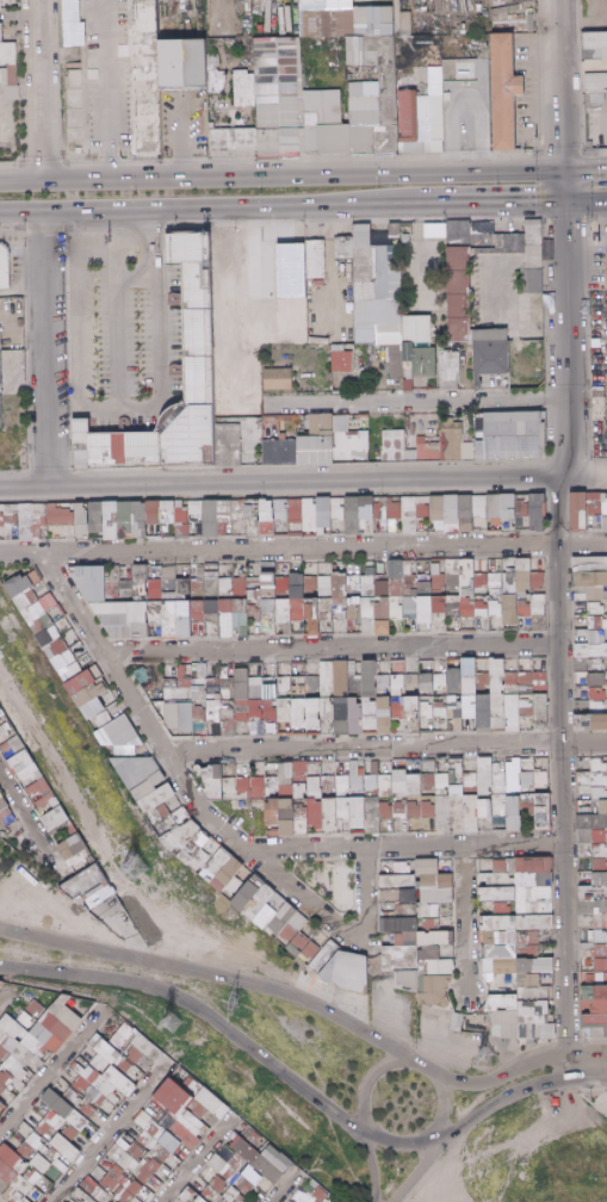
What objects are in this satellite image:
park: (6, 856)
power tower: (140, 869)
power tower: (228, 997)
power tower: (169, 1022)
power tower: (482, 1059)

